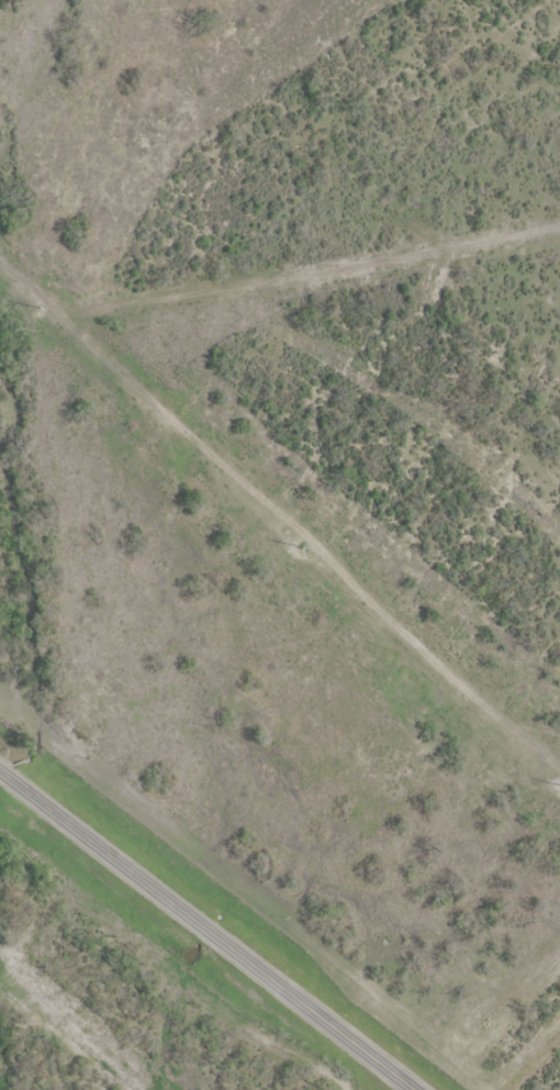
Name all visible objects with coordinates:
power tower: (35, 303)
power tower: (299, 544)
road: (208, 933)

